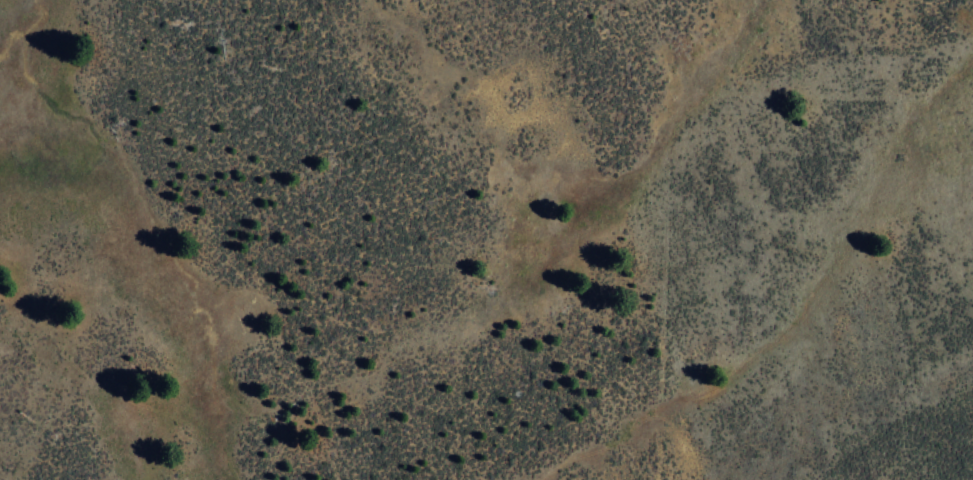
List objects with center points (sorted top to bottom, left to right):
crop: (483, 290)

